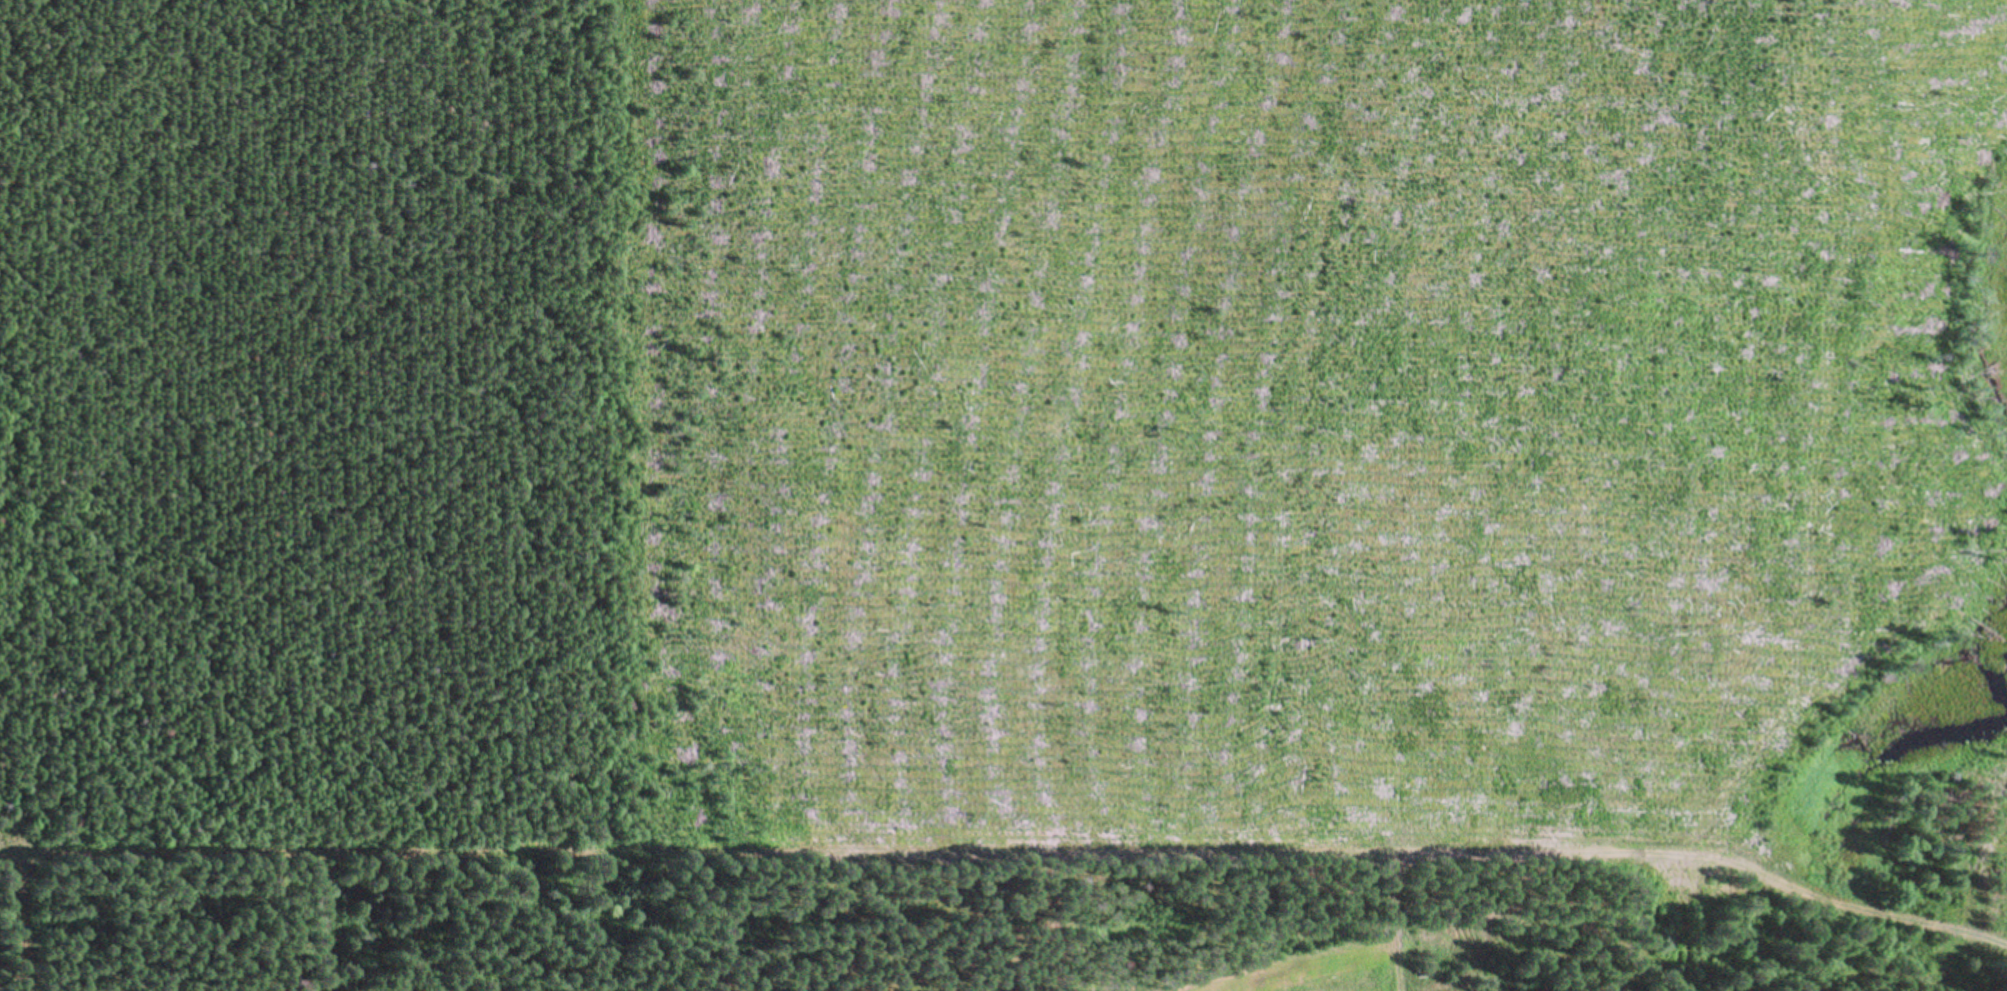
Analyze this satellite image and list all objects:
road: (313, 49)
road: (1010, 883)
road: (16, 937)
road: (1358, 937)

